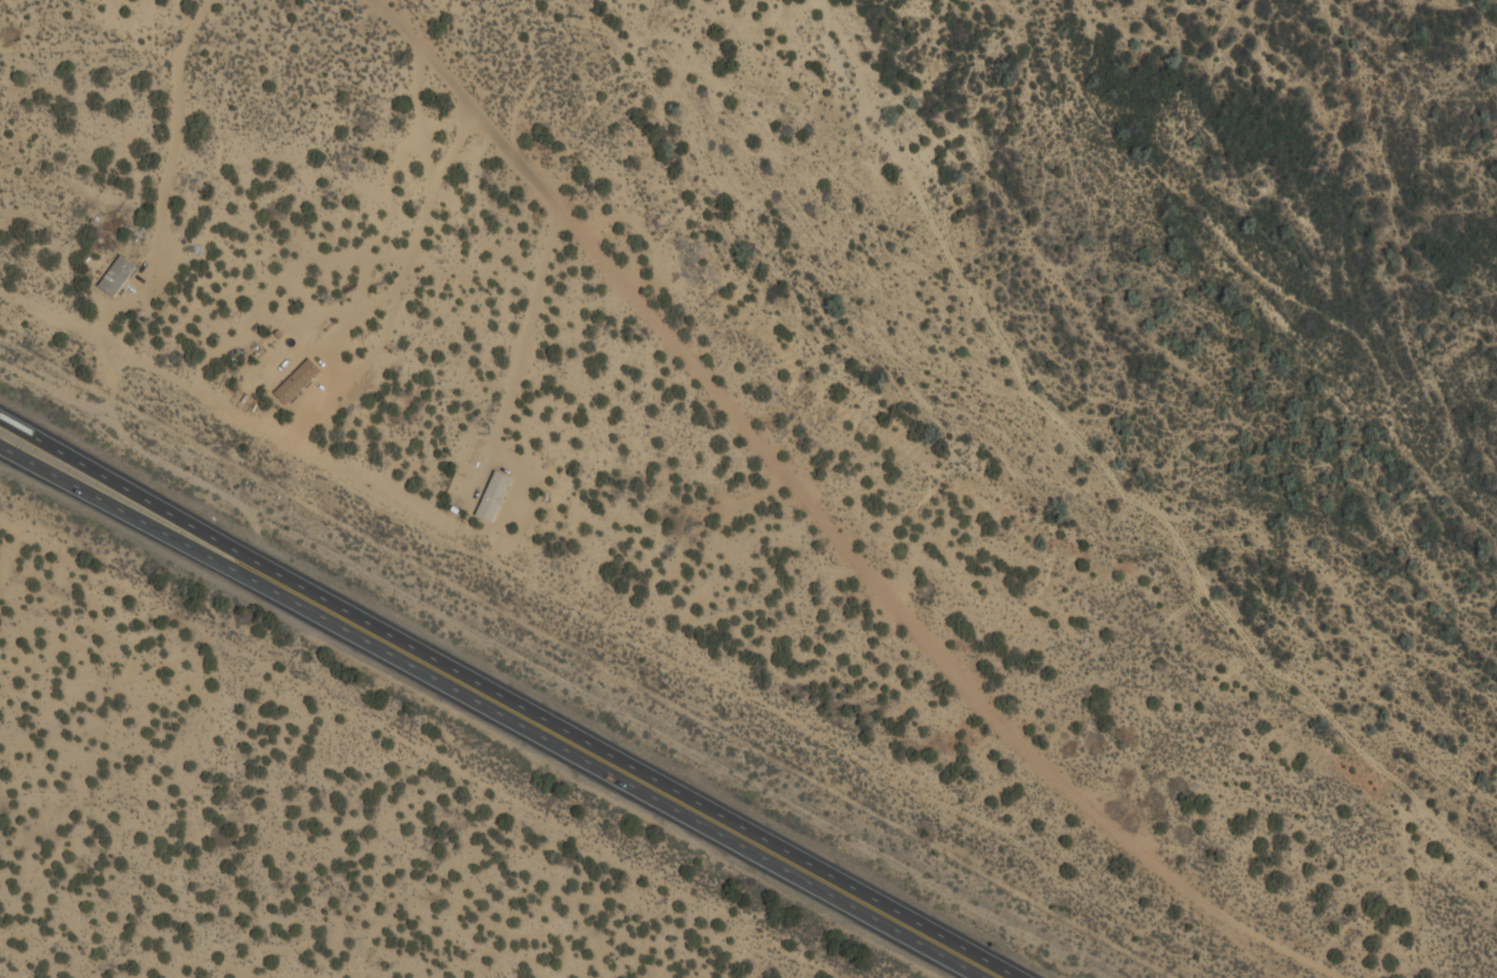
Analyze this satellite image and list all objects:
building: (115, 277)
building: (483, 493)
road: (507, 699)
road: (488, 711)

